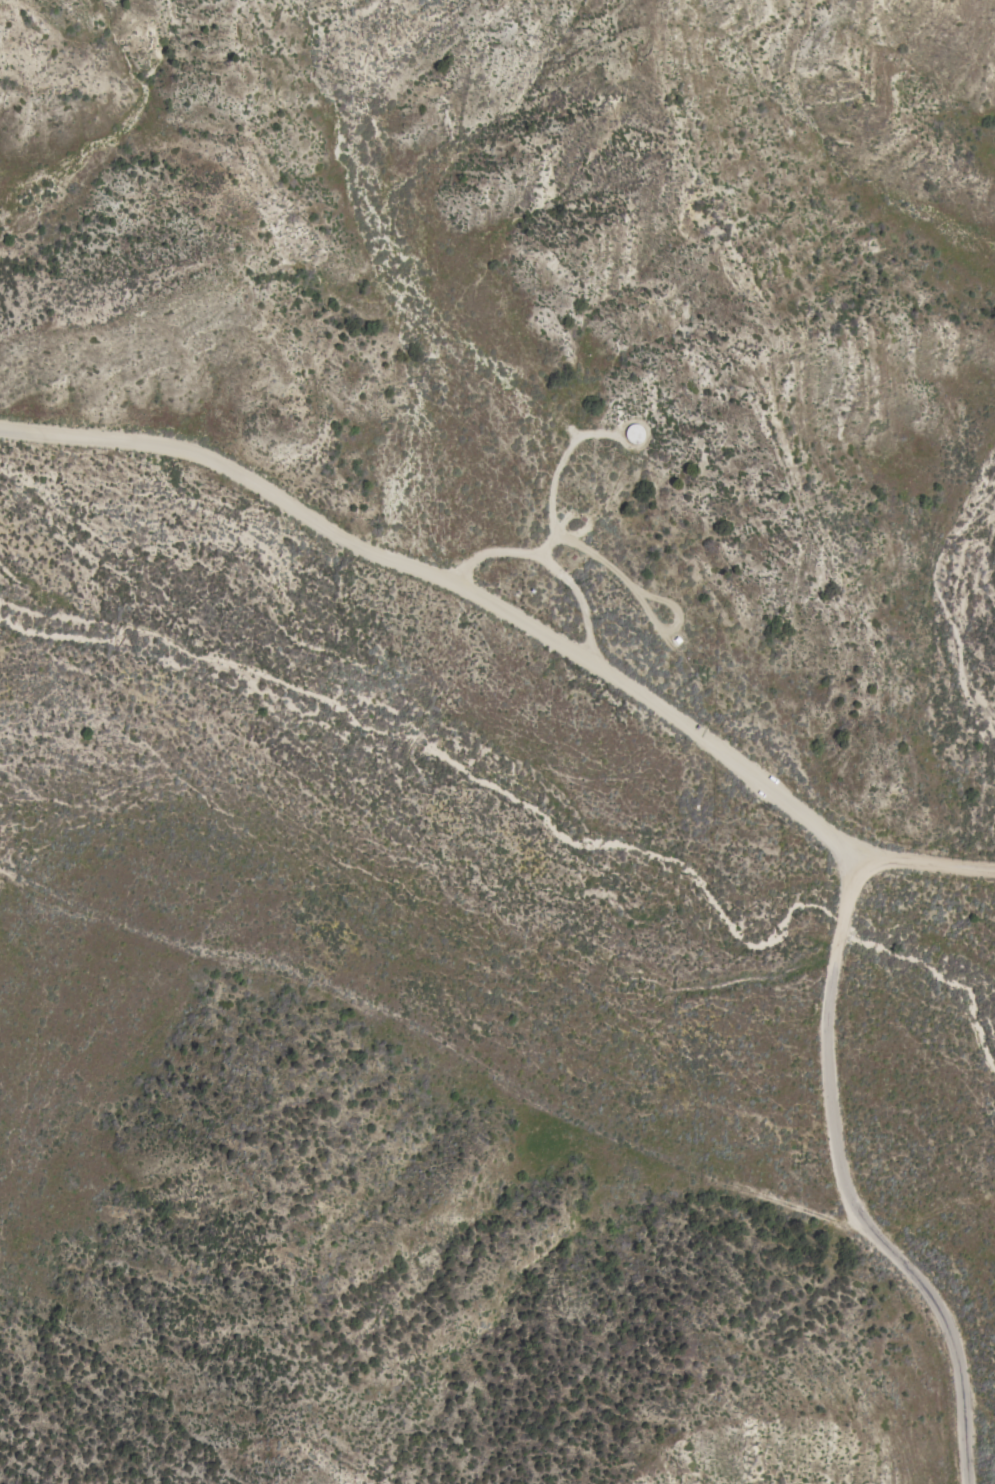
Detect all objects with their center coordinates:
building: (635, 433)
road: (598, 558)
road: (548, 563)
road: (458, 585)
road: (875, 859)
road: (882, 1233)

